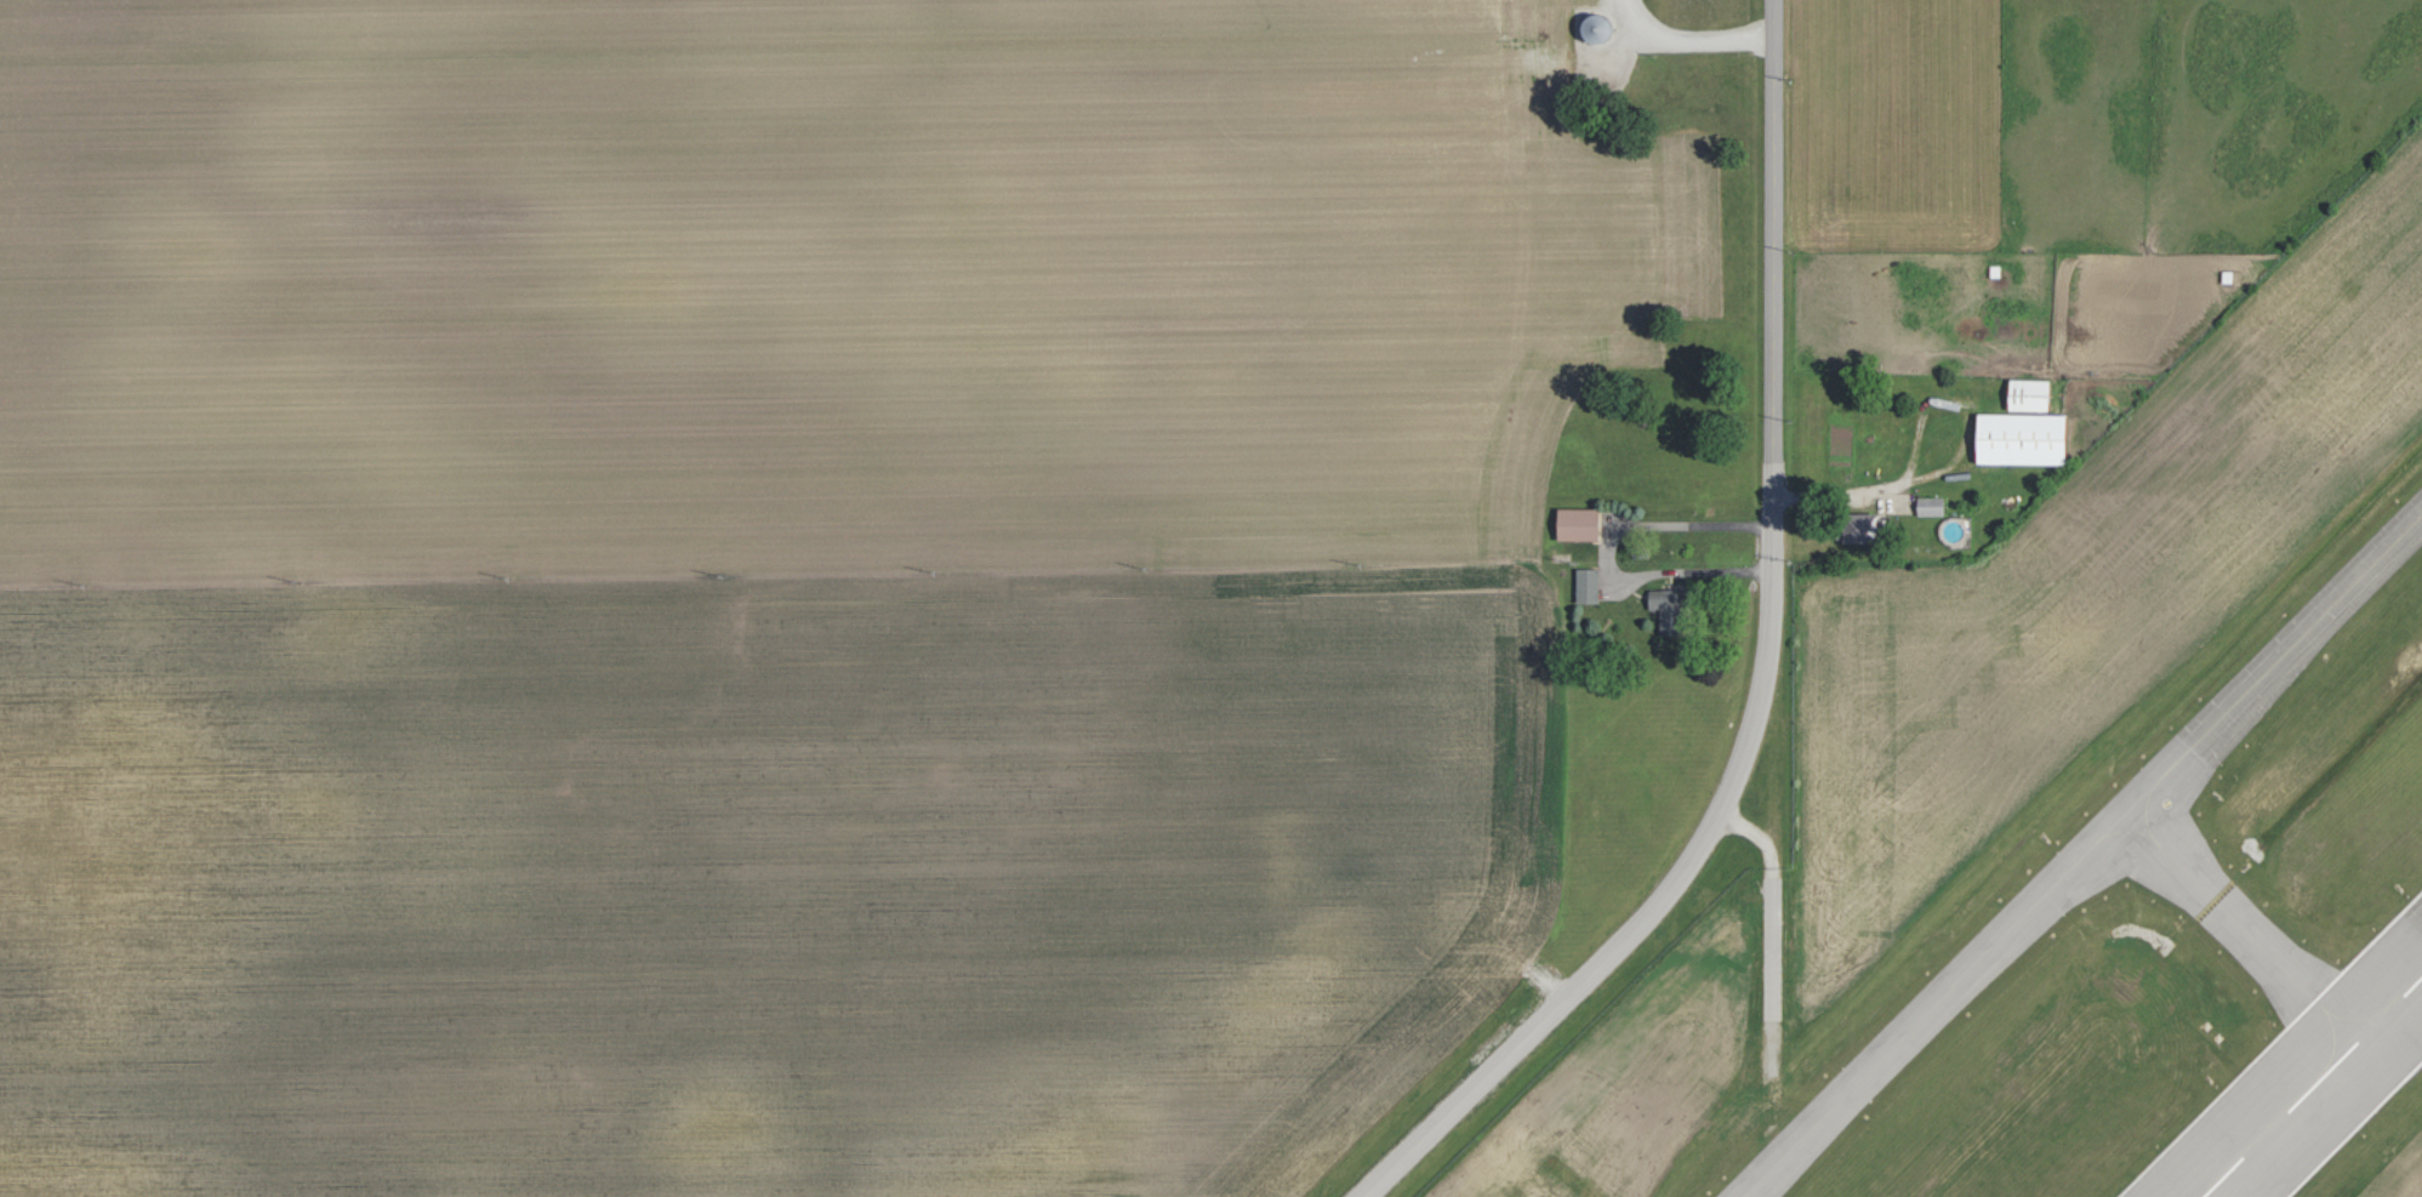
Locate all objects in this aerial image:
road: (1772, 281)
building: (2031, 394)
building: (2025, 438)
building: (1932, 506)
building: (1580, 524)
building: (1588, 585)
building: (1671, 605)
airport: (2086, 820)
airport taxiway: (2092, 866)
road: (1639, 919)
airport taxiway: (2251, 930)
airport runway: (2314, 1088)

